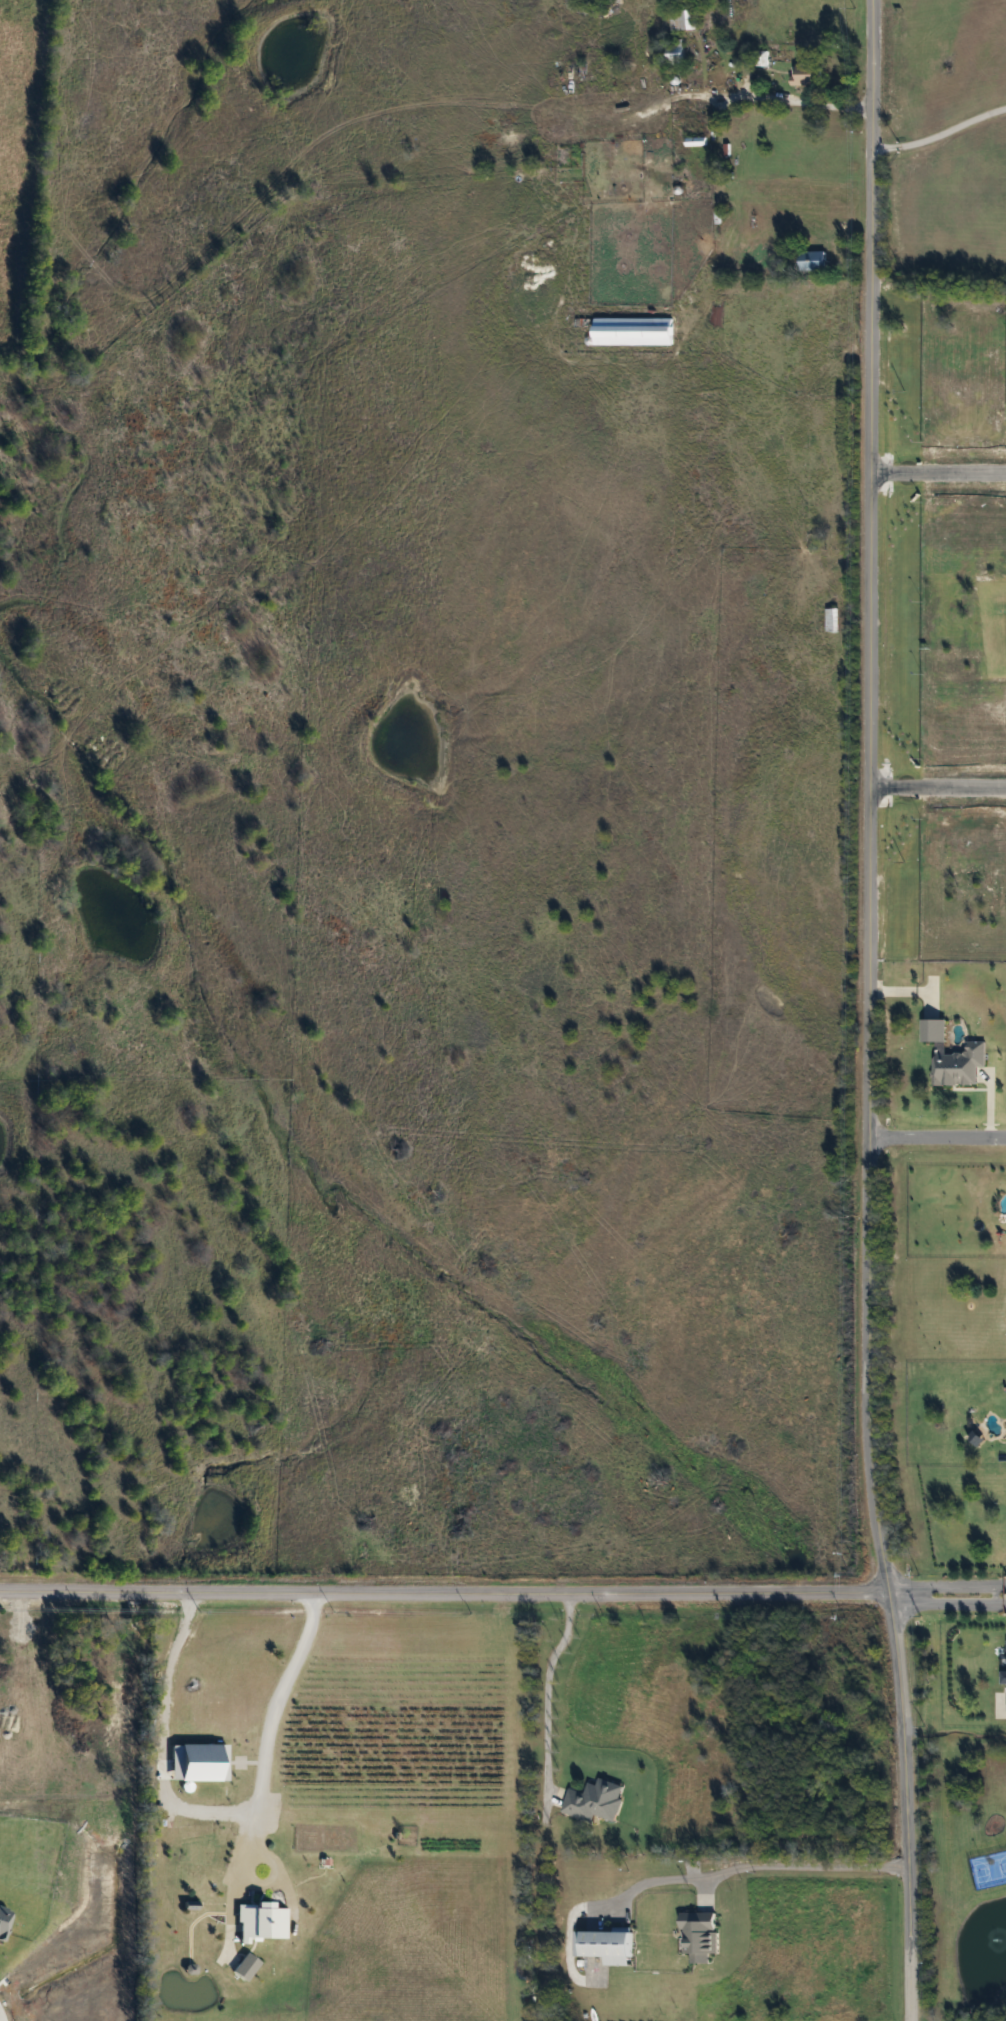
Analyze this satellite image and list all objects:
building: (682, 20)
building: (802, 76)
road: (782, 100)
road: (937, 134)
building: (810, 261)
building: (630, 332)
road: (935, 482)
building: (831, 620)
road: (935, 793)
road: (868, 1011)
road: (939, 1140)
road: (944, 1595)
road: (443, 1599)
road: (11, 1658)
building: (1003, 1676)
road: (547, 1687)
road: (1000, 1713)
road: (265, 1733)
road: (160, 1740)
building: (592, 1801)
road: (754, 1867)
building: (258, 1921)
building: (697, 1934)
building: (605, 1945)
building: (242, 1967)

